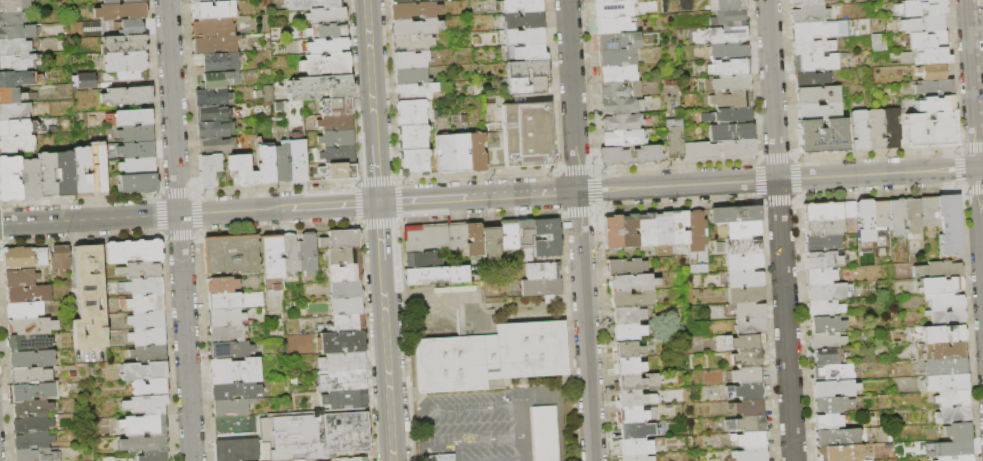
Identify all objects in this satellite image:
building: (4, 0)
building: (436, 0)
building: (603, 0)
building: (625, 0)
building: (133, 1)
building: (207, 1)
building: (399, 1)
building: (110, 2)
building: (663, 2)
building: (811, 2)
building: (309, 4)
building: (518, 5)
building: (684, 5)
building: (727, 5)
building: (14, 6)
building: (613, 8)
building: (919, 8)
building: (664, 9)
building: (211, 10)
building: (414, 10)
building: (121, 12)
building: (810, 14)
building: (325, 16)
building: (729, 19)
building: (11, 20)
building: (522, 20)
building: (931, 23)
building: (614, 25)
building: (910, 25)
building: (212, 27)
building: (414, 27)
building: (132, 28)
building: (818, 30)
building: (326, 31)
building: (17, 33)
building: (855, 33)
building: (728, 35)
building: (525, 36)
building: (926, 39)
building: (618, 41)
building: (411, 43)
building: (876, 43)
building: (123, 44)
building: (214, 45)
building: (325, 46)
building: (812, 46)
building: (14, 47)
building: (729, 51)
building: (526, 52)
building: (922, 56)
building: (616, 57)
building: (410, 59)
building: (815, 62)
building: (16, 63)
building: (219, 63)
building: (126, 65)
building: (325, 65)
building: (731, 67)
building: (932, 71)
road: (370, 72)
building: (538, 72)
building: (617, 73)
building: (410, 75)
building: (813, 78)
building: (14, 79)
building: (82, 79)
building: (220, 80)
building: (732, 83)
road: (972, 84)
building: (528, 85)
building: (319, 87)
building: (934, 87)
building: (619, 90)
building: (414, 91)
building: (817, 94)
road: (572, 95)
building: (11, 96)
building: (127, 96)
building: (211, 97)
building: (731, 100)
building: (934, 104)
building: (621, 105)
building: (334, 106)
building: (818, 111)
building: (14, 112)
building: (212, 113)
building: (409, 113)
building: (729, 116)
building: (134, 118)
building: (463, 118)
building: (335, 122)
building: (622, 122)
building: (17, 128)
building: (875, 128)
building: (891, 128)
building: (213, 130)
building: (858, 130)
building: (929, 130)
building: (731, 131)
building: (136, 134)
building: (526, 134)
building: (821, 135)
building: (623, 137)
building: (335, 138)
building: (411, 138)
building: (673, 140)
building: (16, 144)
building: (216, 146)
building: (718, 149)
building: (137, 150)
building: (475, 152)
building: (459, 153)
building: (444, 154)
building: (336, 155)
building: (629, 155)
building: (297, 160)
building: (281, 162)
building: (412, 162)
building: (264, 165)
building: (138, 167)
road: (980, 167)
building: (208, 171)
building: (241, 171)
building: (337, 171)
building: (81, 172)
road: (376, 173)
building: (65, 174)
building: (47, 175)
building: (99, 177)
building: (9, 179)
building: (29, 179)
road: (777, 179)
building: (137, 183)
road: (478, 197)
traffic signals: (378, 203)
road: (334, 205)
building: (828, 210)
building: (928, 211)
building: (734, 214)
building: (880, 214)
road: (144, 215)
building: (912, 215)
building: (896, 216)
road: (980, 220)
building: (864, 222)
building: (949, 225)
building: (823, 226)
building: (678, 228)
building: (662, 229)
road: (178, 230)
building: (645, 230)
building: (743, 230)
road: (779, 230)
road: (379, 231)
building: (628, 231)
building: (612, 232)
building: (696, 232)
building: (524, 233)
building: (507, 234)
building: (433, 236)
building: (546, 237)
building: (473, 239)
building: (341, 240)
building: (490, 243)
building: (823, 243)
building: (742, 246)
building: (719, 247)
building: (134, 251)
building: (308, 254)
building: (231, 255)
building: (292, 255)
building: (345, 256)
building: (41, 257)
building: (18, 258)
building: (60, 259)
building: (420, 260)
building: (822, 260)
building: (743, 262)
building: (272, 264)
building: (624, 267)
building: (699, 268)
building: (542, 270)
building: (937, 270)
building: (140, 271)
building: (345, 273)
building: (435, 275)
building: (820, 276)
building: (21, 278)
building: (745, 278)
building: (631, 282)
building: (221, 285)
building: (939, 285)
building: (143, 287)
building: (541, 287)
building: (292, 289)
building: (346, 289)
building: (827, 291)
road: (433, 293)
building: (28, 294)
building: (745, 294)
building: (547, 297)
building: (89, 299)
building: (630, 299)
building: (944, 301)
building: (226, 302)
road: (541, 302)
building: (146, 304)
building: (347, 307)
building: (825, 309)
building: (748, 310)
building: (25, 311)
road: (549, 312)
building: (627, 315)
road: (561, 316)
building: (945, 317)
building: (226, 318)
building: (147, 321)
building: (347, 324)
building: (826, 325)
building: (33, 326)
road: (585, 326)
building: (750, 326)
building: (628, 331)
building: (917, 332)
building: (227, 334)
building: (941, 334)
building: (149, 337)
building: (827, 341)
building: (343, 342)
building: (736, 342)
building: (29, 343)
road: (562, 347)
building: (230, 349)
building: (627, 350)
building: (939, 351)
building: (149, 354)
building: (491, 357)
building: (827, 357)
building: (746, 358)
building: (32, 359)
road: (387, 360)
building: (343, 362)
building: (629, 366)
building: (941, 367)
building: (145, 371)
building: (235, 371)
building: (833, 372)
building: (747, 375)
building: (31, 376)
road: (564, 376)
road: (579, 377)
road: (529, 379)
building: (345, 380)
building: (635, 382)
building: (495, 383)
building: (943, 383)
building: (150, 388)
building: (834, 388)
building: (236, 391)
building: (746, 391)
building: (28, 392)
road: (509, 393)
road: (529, 396)
building: (633, 399)
building: (951, 399)
building: (345, 400)
building: (831, 404)
building: (146, 405)
road: (485, 406)
building: (232, 407)
building: (747, 407)
building: (32, 409)
building: (635, 414)
building: (951, 415)
parking lot: (482, 422)
building: (828, 422)
building: (746, 424)
building: (33, 425)
building: (143, 426)
building: (633, 430)
building: (955, 431)
building: (543, 433)
building: (862, 434)
building: (319, 437)
road: (473, 438)
building: (836, 438)
building: (749, 439)
building: (33, 441)
road: (408, 442)
building: (144, 444)
building: (635, 447)
building: (957, 447)
building: (237, 450)
road: (457, 450)
building: (845, 452)
building: (38, 455)
building: (749, 455)
building: (154, 457)
building: (435, 457)
road: (494, 458)
building: (636, 458)
building: (955, 458)
building: (353, 459)

